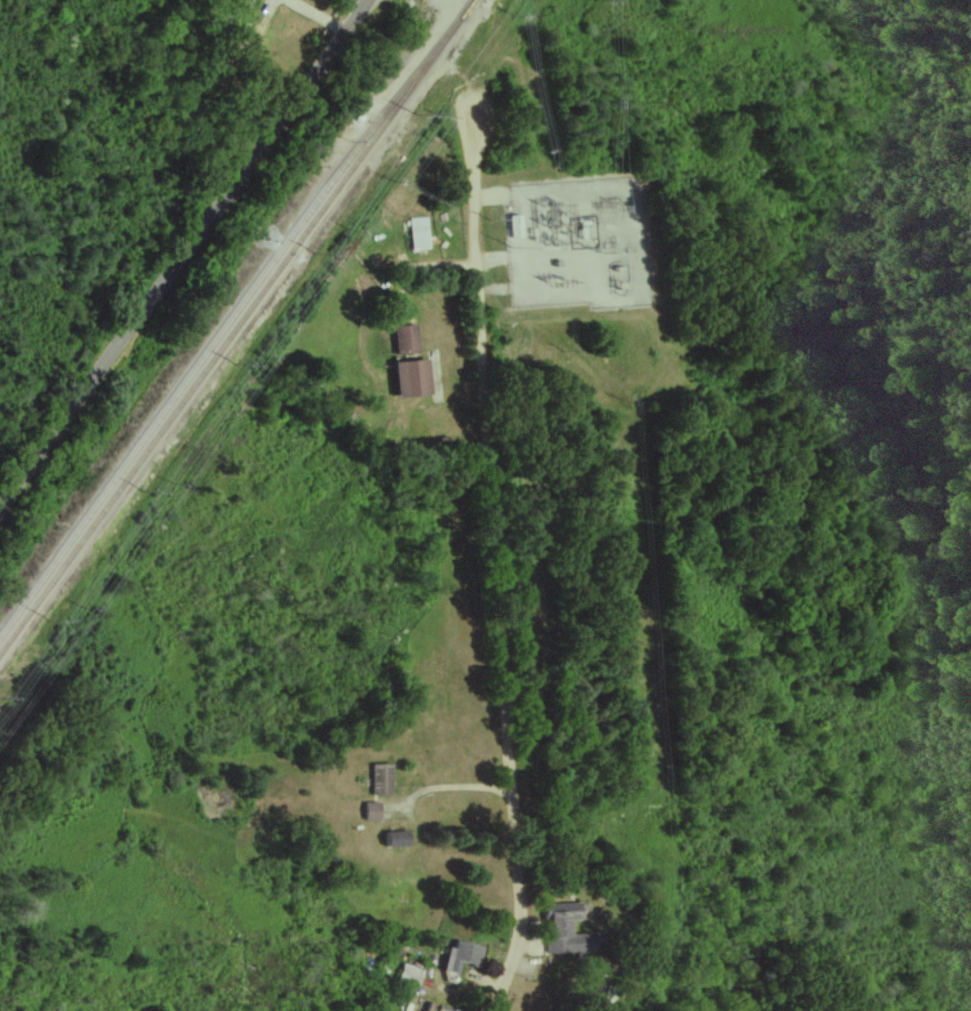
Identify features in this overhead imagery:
building: (420, 233)
power substation: (579, 243)
road: (182, 257)
railway: (232, 312)
railway: (237, 325)
building: (407, 339)
building: (414, 379)
road: (494, 550)
building: (383, 780)
building: (374, 812)
building: (566, 930)
building: (464, 957)
building: (411, 975)
building: (439, 1008)

